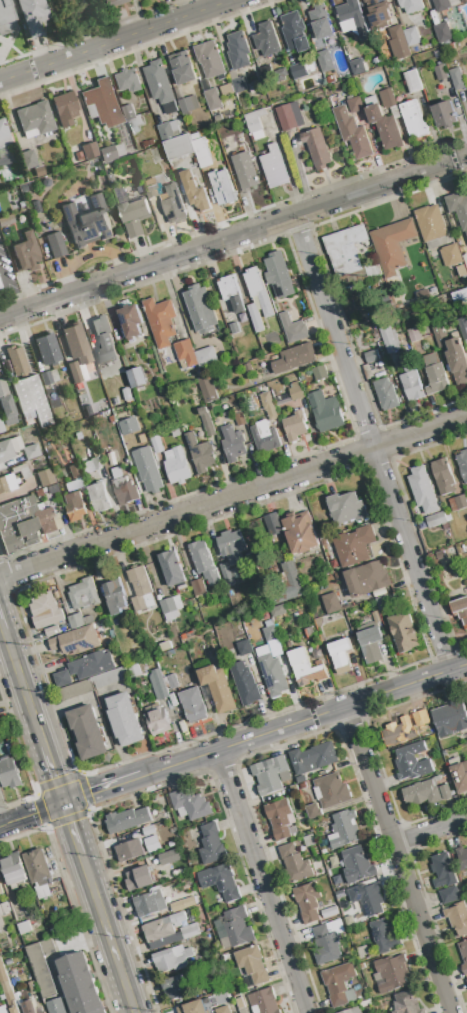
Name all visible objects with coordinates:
building: (119, 3)
building: (411, 5)
building: (441, 5)
building: (379, 14)
building: (32, 15)
building: (6, 19)
building: (352, 19)
building: (321, 22)
building: (295, 33)
building: (443, 33)
building: (411, 37)
road: (113, 39)
building: (267, 41)
building: (398, 44)
building: (238, 51)
building: (210, 60)
building: (325, 61)
building: (357, 67)
building: (182, 68)
building: (299, 72)
building: (441, 73)
building: (280, 75)
building: (456, 79)
building: (128, 81)
building: (412, 82)
building: (158, 83)
building: (239, 85)
building: (254, 88)
building: (226, 90)
building: (210, 96)
building: (387, 99)
building: (102, 103)
building: (188, 105)
building: (355, 105)
building: (64, 108)
building: (128, 113)
building: (256, 115)
building: (444, 115)
building: (289, 117)
building: (34, 119)
building: (413, 120)
building: (384, 125)
building: (254, 126)
building: (3, 130)
building: (166, 133)
building: (352, 133)
building: (147, 144)
building: (178, 148)
building: (317, 149)
building: (89, 150)
building: (201, 150)
building: (110, 152)
building: (78, 156)
building: (27, 159)
building: (3, 160)
building: (274, 168)
building: (38, 171)
building: (245, 172)
building: (110, 178)
building: (22, 188)
building: (150, 188)
building: (222, 188)
building: (195, 192)
building: (173, 204)
building: (35, 207)
building: (459, 208)
building: (132, 213)
building: (6, 220)
building: (87, 223)
building: (431, 224)
road: (233, 236)
building: (54, 245)
building: (393, 245)
building: (345, 251)
building: (25, 253)
building: (450, 256)
building: (460, 268)
building: (374, 271)
building: (279, 276)
building: (231, 294)
building: (422, 296)
building: (460, 296)
building: (258, 300)
building: (201, 309)
building: (131, 321)
building: (160, 321)
building: (463, 327)
building: (234, 328)
building: (293, 329)
building: (439, 334)
building: (414, 335)
building: (104, 340)
building: (389, 340)
building: (76, 343)
building: (46, 349)
building: (185, 353)
building: (206, 357)
building: (371, 357)
building: (294, 359)
building: (15, 360)
building: (457, 361)
building: (247, 368)
building: (74, 372)
building: (319, 373)
building: (435, 375)
building: (48, 376)
building: (137, 377)
building: (411, 380)
building: (210, 387)
building: (127, 394)
building: (290, 395)
building: (386, 395)
building: (97, 397)
building: (31, 400)
building: (5, 406)
building: (268, 406)
building: (326, 411)
building: (77, 413)
building: (239, 416)
building: (206, 422)
building: (1, 426)
building: (129, 426)
building: (295, 427)
building: (176, 433)
building: (265, 437)
road: (373, 441)
building: (233, 444)
building: (157, 445)
building: (9, 448)
building: (30, 451)
building: (201, 454)
building: (91, 461)
building: (462, 465)
building: (177, 466)
building: (147, 470)
building: (73, 471)
building: (20, 472)
building: (443, 476)
building: (44, 477)
building: (6, 482)
building: (50, 488)
building: (123, 488)
building: (422, 490)
building: (38, 493)
road: (233, 496)
building: (98, 498)
building: (461, 502)
building: (73, 506)
building: (346, 508)
building: (47, 520)
building: (436, 520)
building: (18, 525)
building: (273, 525)
building: (300, 534)
building: (354, 546)
building: (232, 547)
building: (204, 562)
building: (172, 569)
building: (228, 574)
building: (292, 579)
building: (367, 579)
building: (198, 589)
building: (140, 590)
building: (83, 595)
building: (115, 597)
building: (331, 603)
building: (383, 603)
building: (44, 607)
building: (67, 607)
building: (169, 610)
building: (460, 610)
building: (277, 611)
building: (75, 621)
road: (2, 623)
building: (52, 631)
building: (404, 633)
building: (270, 634)
building: (75, 641)
building: (371, 644)
building: (244, 648)
building: (340, 656)
building: (92, 665)
building: (305, 669)
building: (133, 671)
building: (273, 675)
building: (62, 678)
building: (109, 679)
building: (157, 681)
building: (172, 682)
building: (244, 684)
road: (25, 688)
building: (217, 689)
building: (76, 690)
building: (466, 701)
building: (193, 706)
building: (450, 719)
building: (124, 720)
building: (157, 720)
road: (302, 720)
building: (404, 729)
building: (88, 733)
building: (313, 758)
building: (412, 763)
building: (9, 774)
road: (55, 774)
building: (458, 774)
building: (269, 776)
building: (300, 779)
building: (294, 789)
road: (102, 790)
building: (331, 791)
building: (445, 792)
building: (422, 794)
traffic signals: (65, 803)
building: (190, 805)
building: (313, 812)
road: (32, 814)
building: (165, 816)
building: (279, 819)
building: (127, 821)
road: (73, 827)
building: (343, 830)
building: (148, 831)
road: (427, 832)
building: (309, 841)
building: (151, 843)
building: (171, 844)
building: (211, 845)
building: (129, 850)
building: (163, 858)
building: (462, 859)
road: (392, 860)
building: (295, 864)
building: (357, 866)
building: (37, 868)
building: (14, 869)
building: (443, 871)
building: (139, 880)
building: (337, 880)
road: (265, 881)
building: (220, 882)
building: (1, 890)
building: (449, 895)
building: (371, 899)
building: (343, 901)
building: (308, 902)
building: (147, 904)
building: (177, 907)
building: (4, 909)
building: (330, 912)
building: (457, 918)
building: (163, 927)
building: (24, 928)
building: (234, 929)
building: (56, 930)
building: (190, 932)
road: (107, 933)
building: (383, 936)
building: (167, 940)
building: (327, 942)
building: (363, 953)
building: (463, 955)
building: (172, 959)
building: (252, 965)
building: (42, 967)
building: (392, 973)
building: (2, 974)
building: (466, 981)
building: (339, 984)
building: (79, 985)
building: (175, 988)
building: (9, 995)
building: (263, 1002)
building: (406, 1003)
building: (241, 1005)
building: (56, 1006)
building: (29, 1007)
building: (193, 1008)
building: (3, 1009)
building: (14, 1010)
building: (223, 1010)
building: (352, 1011)
building: (42, 1012)

